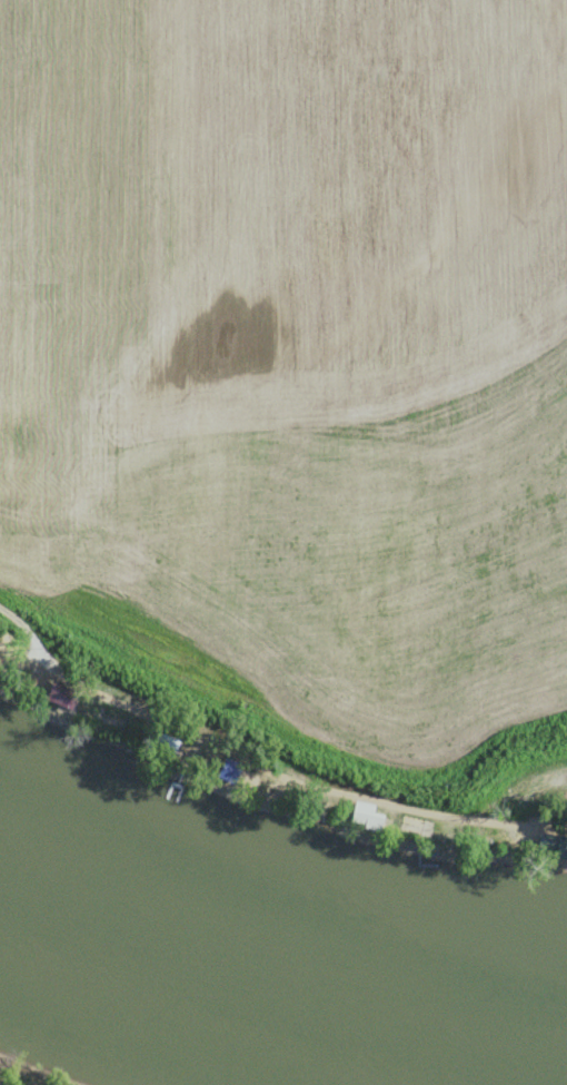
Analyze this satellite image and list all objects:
building: (49, 693)
road: (262, 765)
building: (352, 812)
building: (406, 826)
building: (479, 828)
building: (546, 846)
river: (273, 969)

